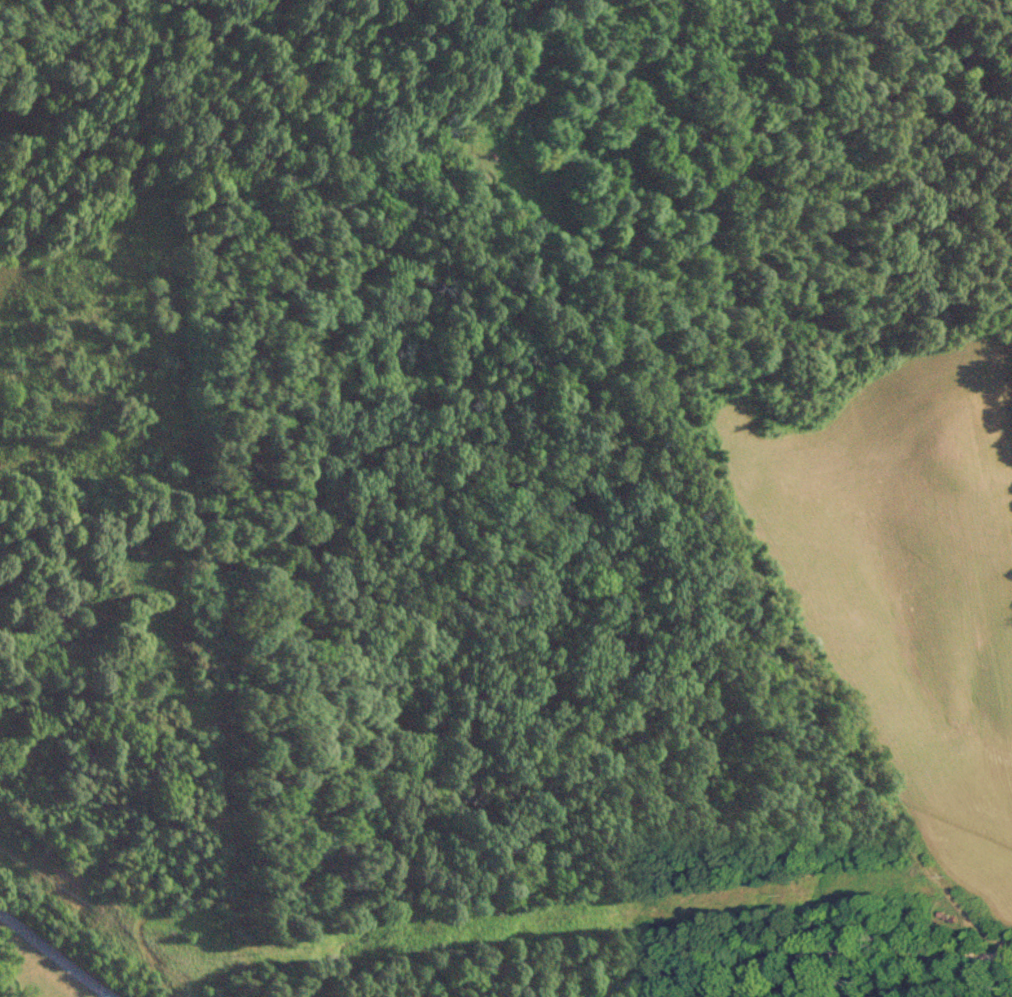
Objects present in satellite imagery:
road: (768, 946)
road: (55, 957)

